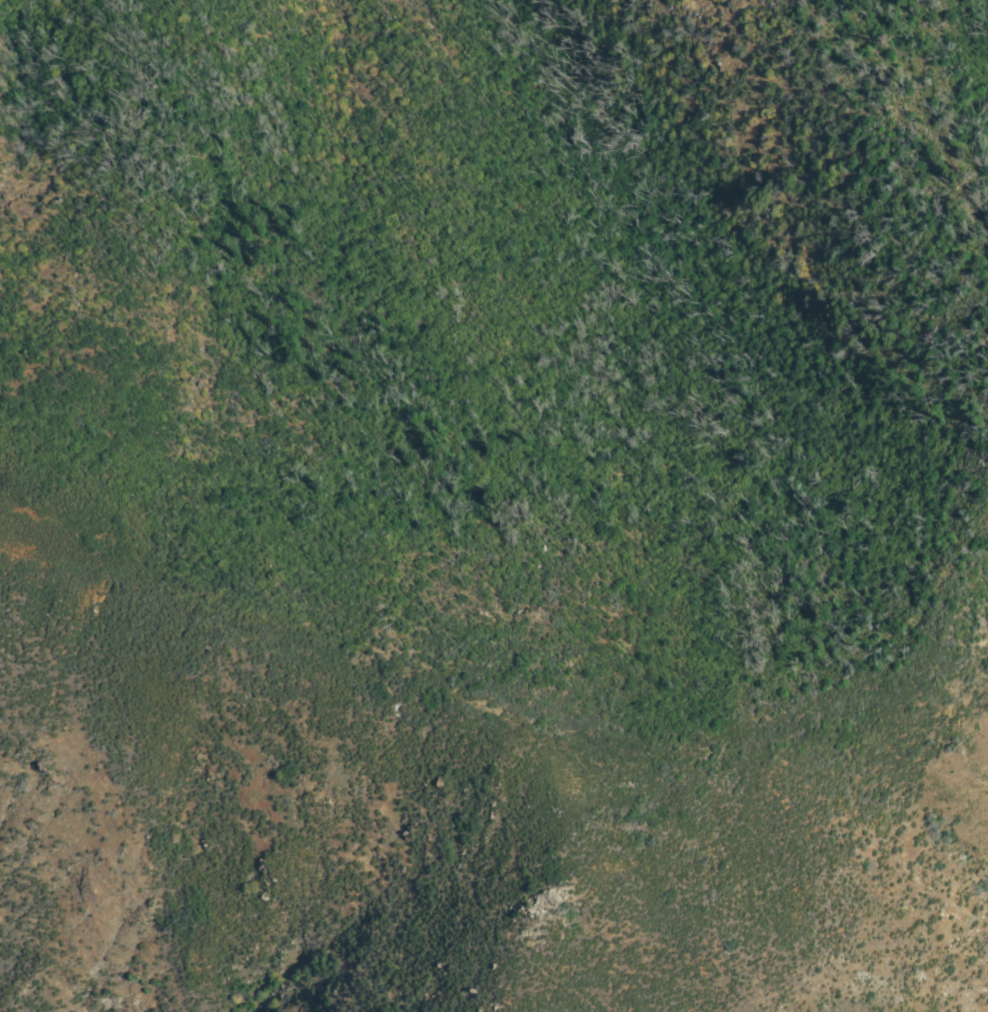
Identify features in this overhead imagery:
road: (521, 720)

